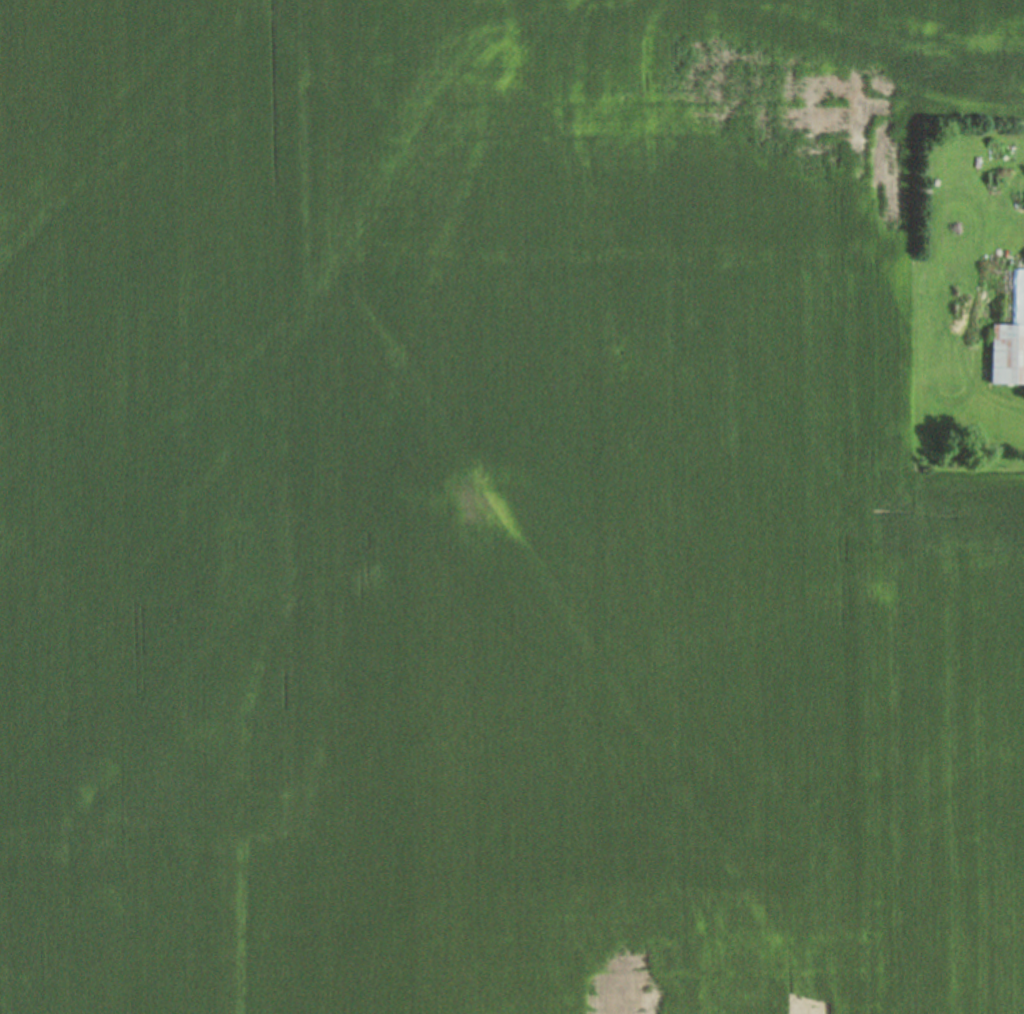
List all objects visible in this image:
building: (1010, 339)

